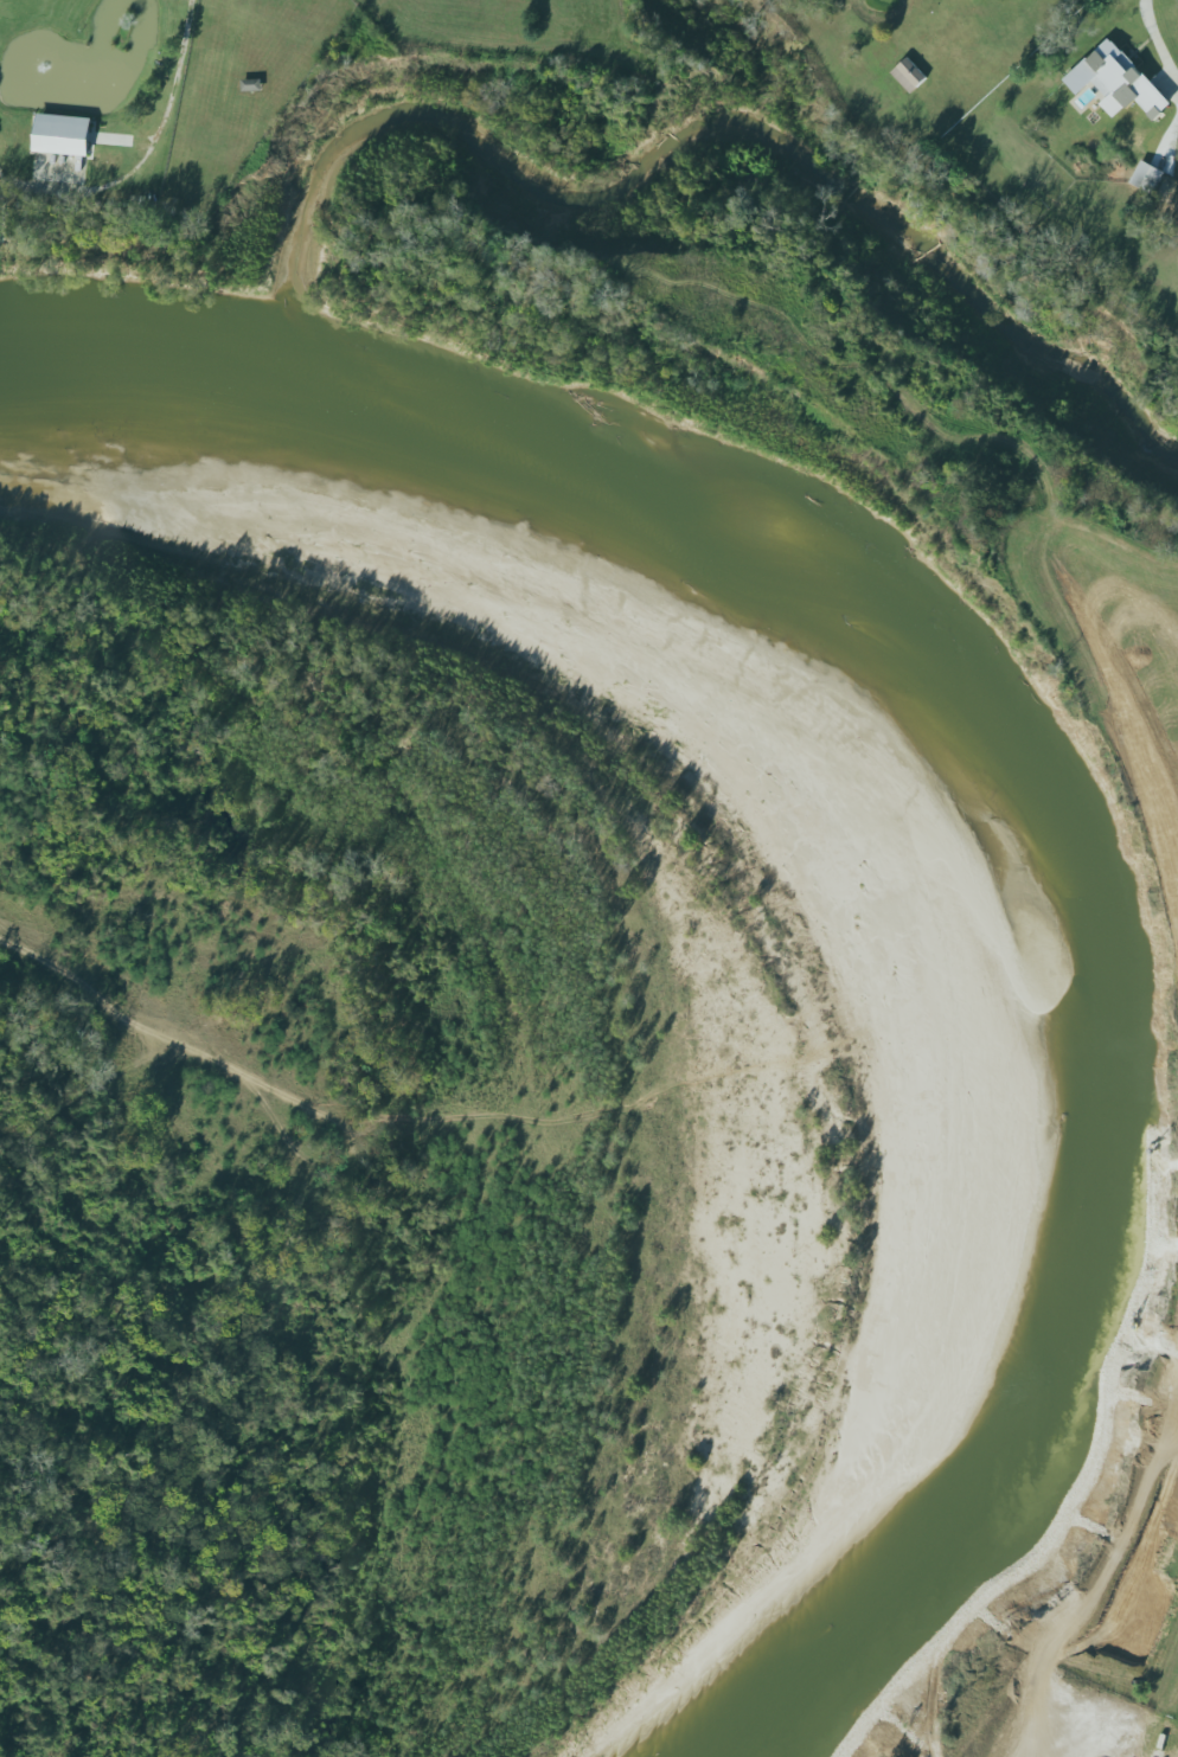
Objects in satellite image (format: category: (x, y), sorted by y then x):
road: (1154, 27)
building: (909, 75)
building: (1118, 81)
building: (252, 85)
building: (63, 134)
building: (1147, 178)
river: (973, 748)
road: (158, 1033)

